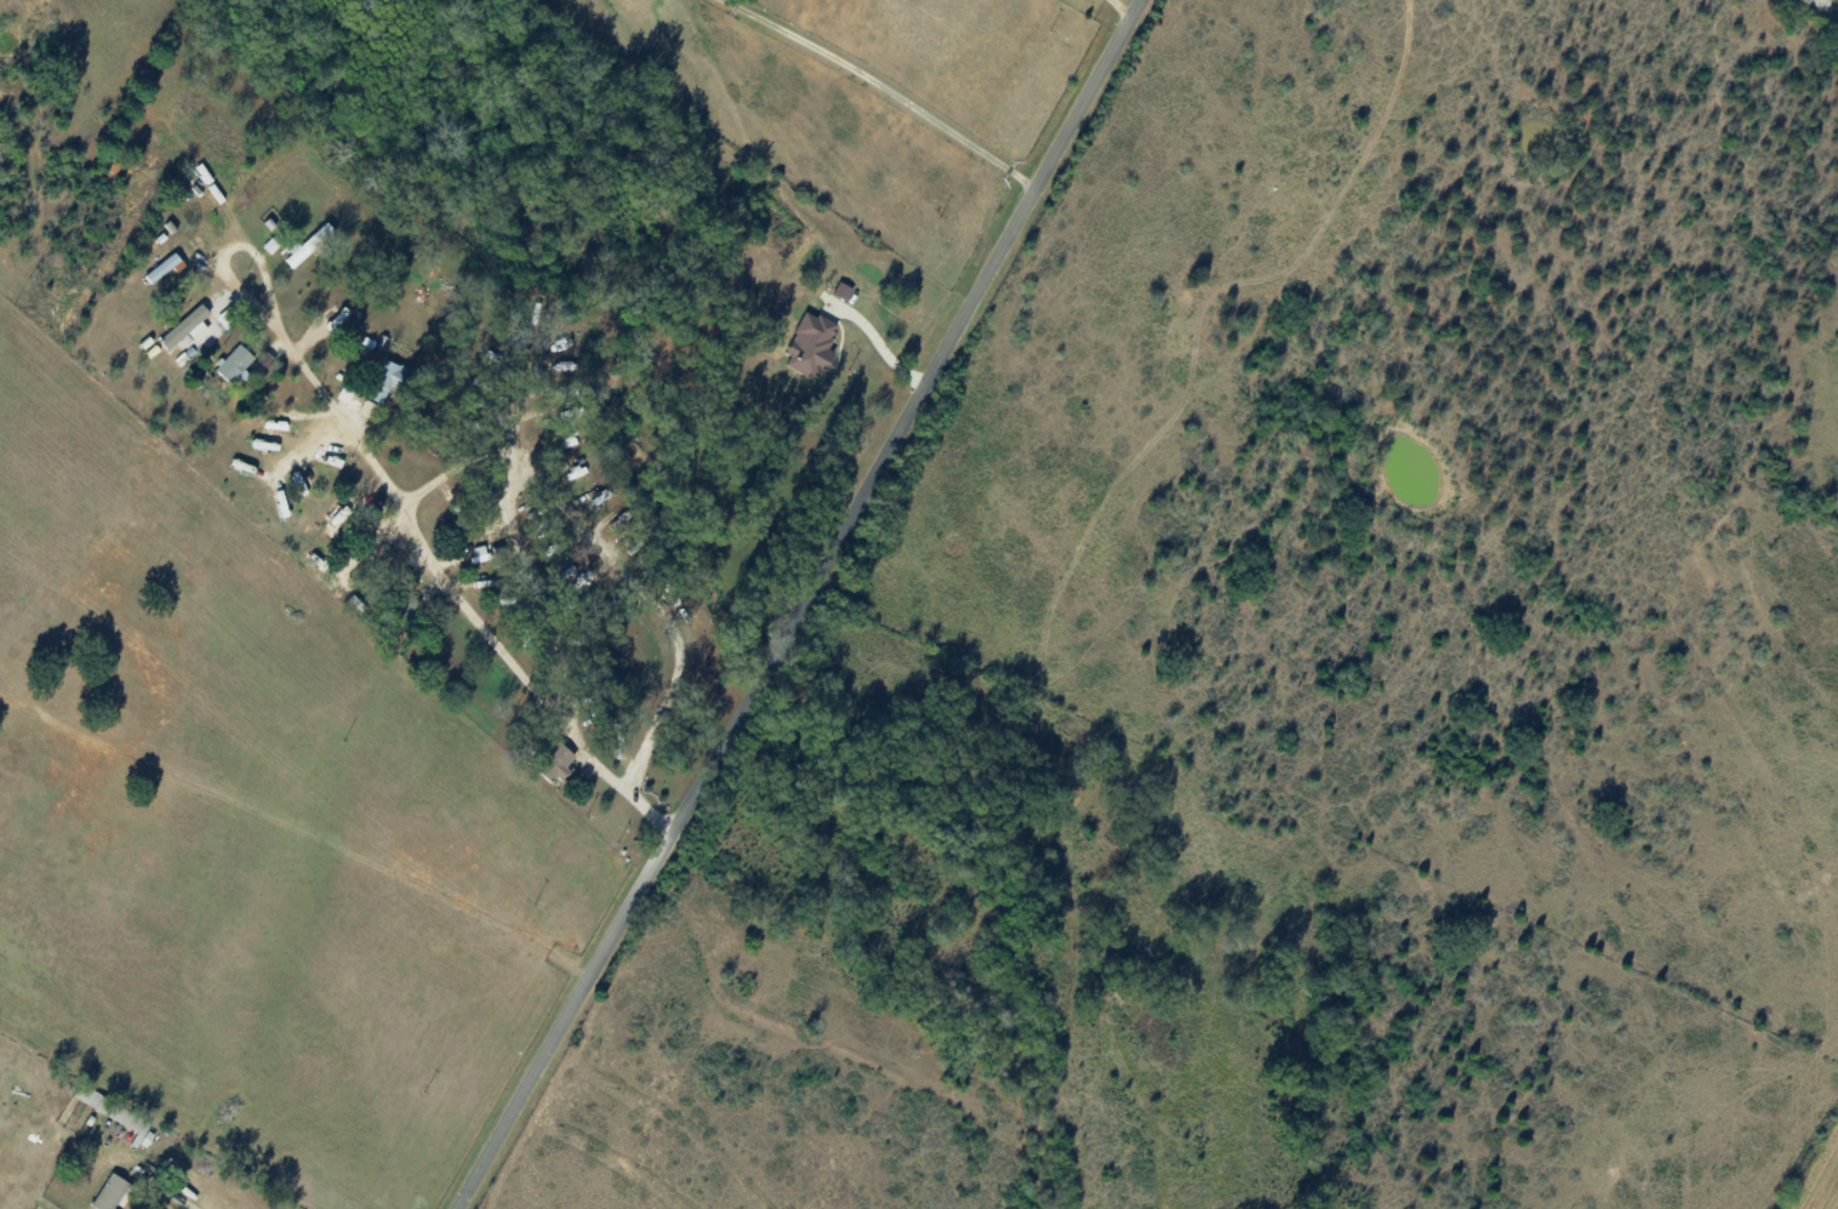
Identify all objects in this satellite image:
road: (1827, 5)
road: (1120, 7)
road: (884, 89)
building: (309, 245)
building: (165, 268)
building: (185, 329)
road: (877, 341)
building: (811, 346)
building: (234, 363)
building: (390, 377)
building: (369, 409)
road: (355, 439)
building: (341, 518)
building: (479, 554)
road: (634, 577)
road: (543, 605)
road: (803, 605)
building: (558, 763)
building: (110, 1192)
road: (179, 1199)

